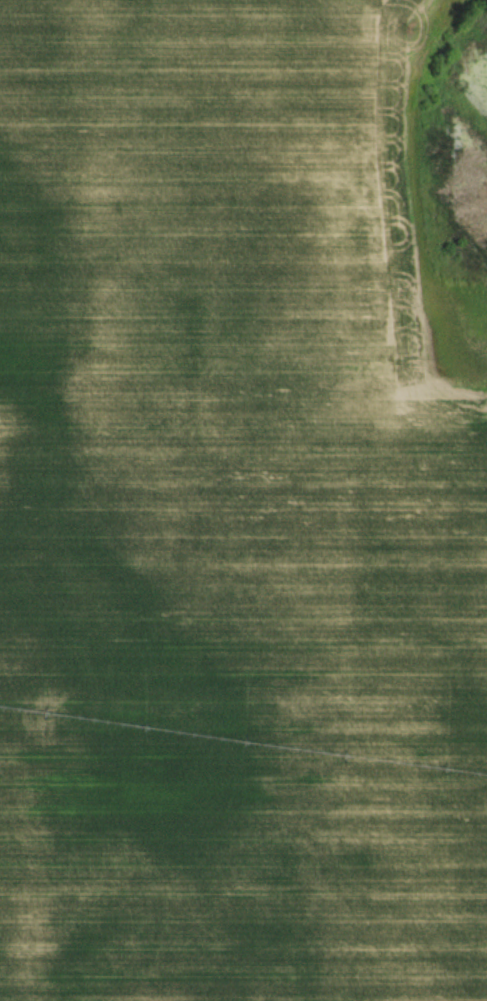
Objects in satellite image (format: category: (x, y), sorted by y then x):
crop: (238, 508)

